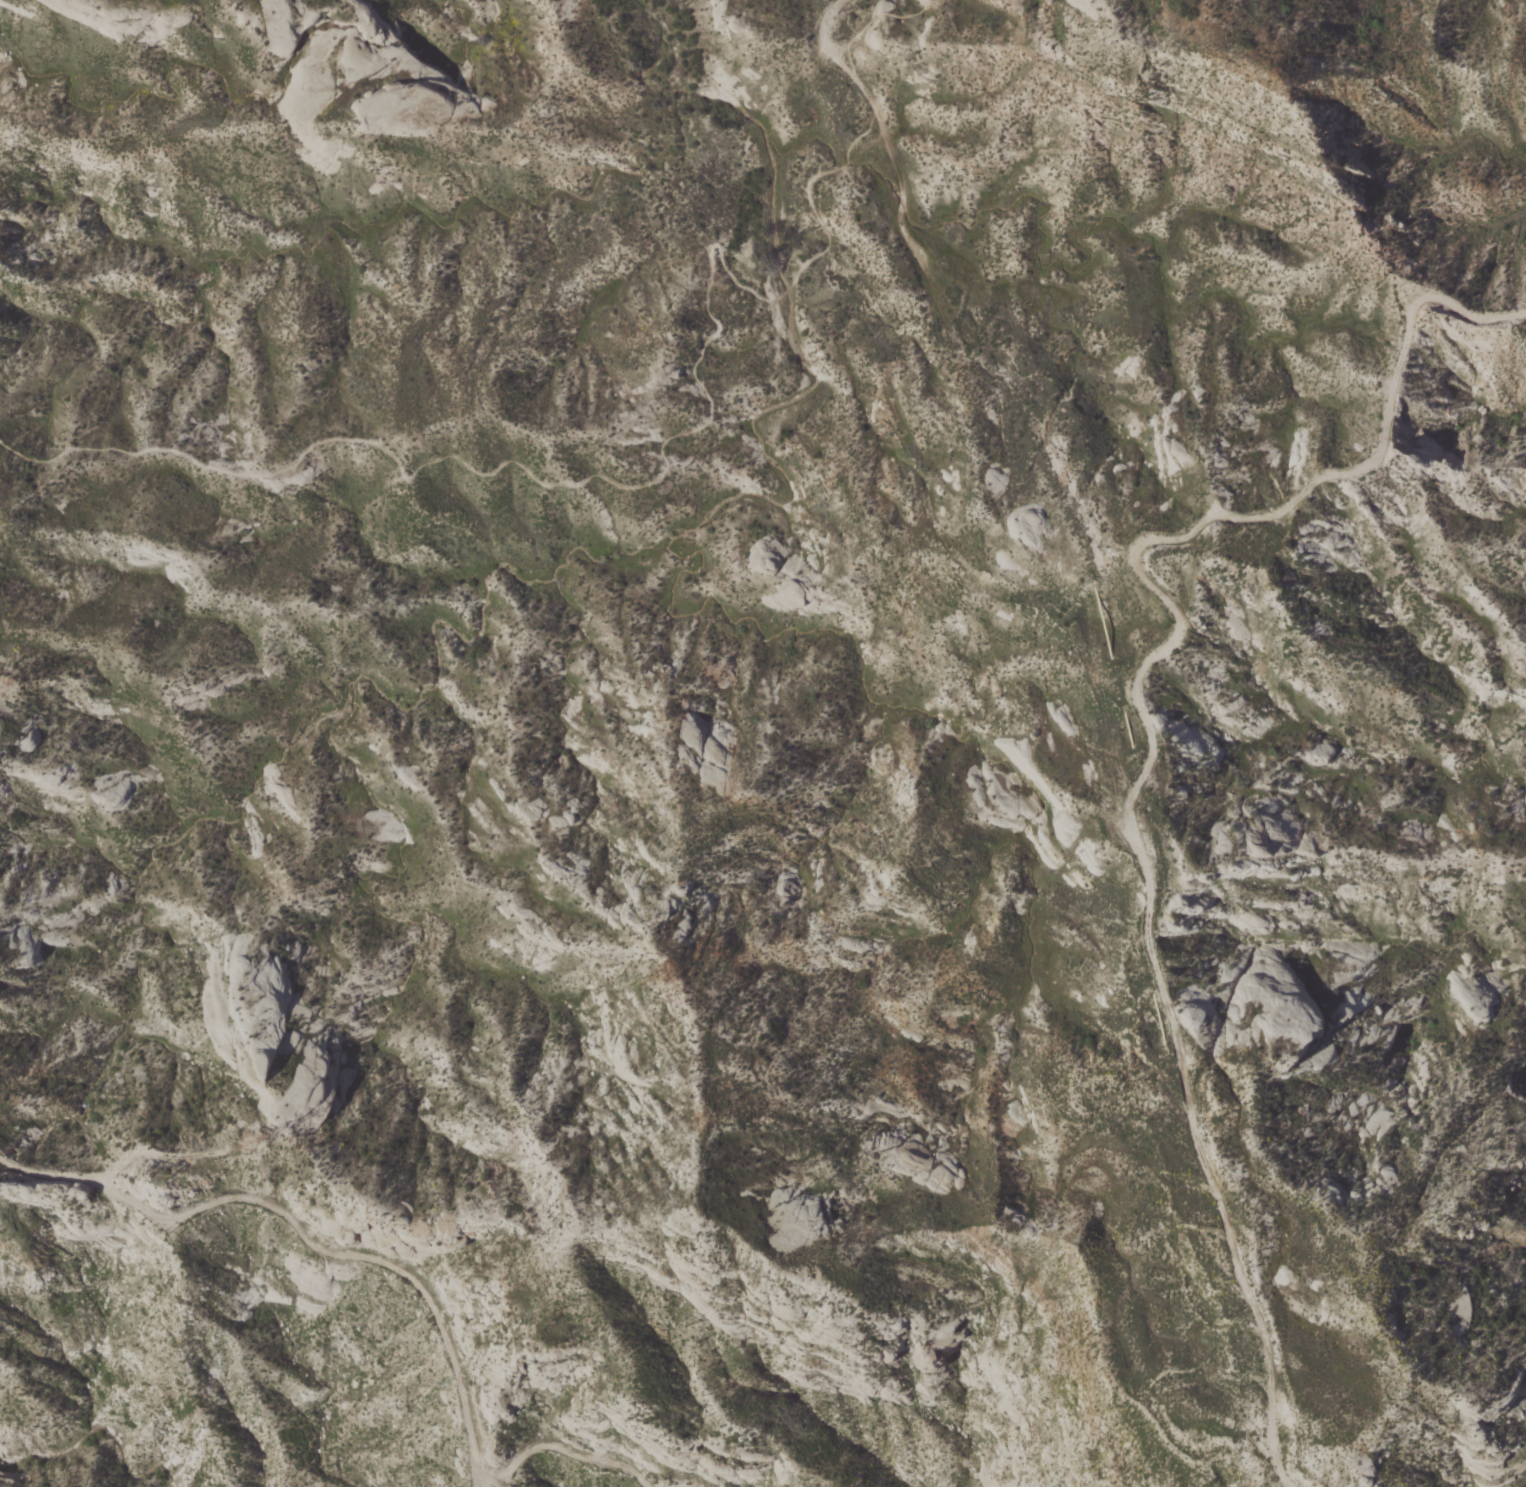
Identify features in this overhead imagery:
road: (874, 19)
road: (819, 39)
road: (863, 91)
road: (897, 180)
road: (603, 475)
power tower: (10, 681)
road: (1139, 701)
road: (163, 1151)
power tower: (267, 1154)
road: (398, 1265)
road: (1272, 1455)

